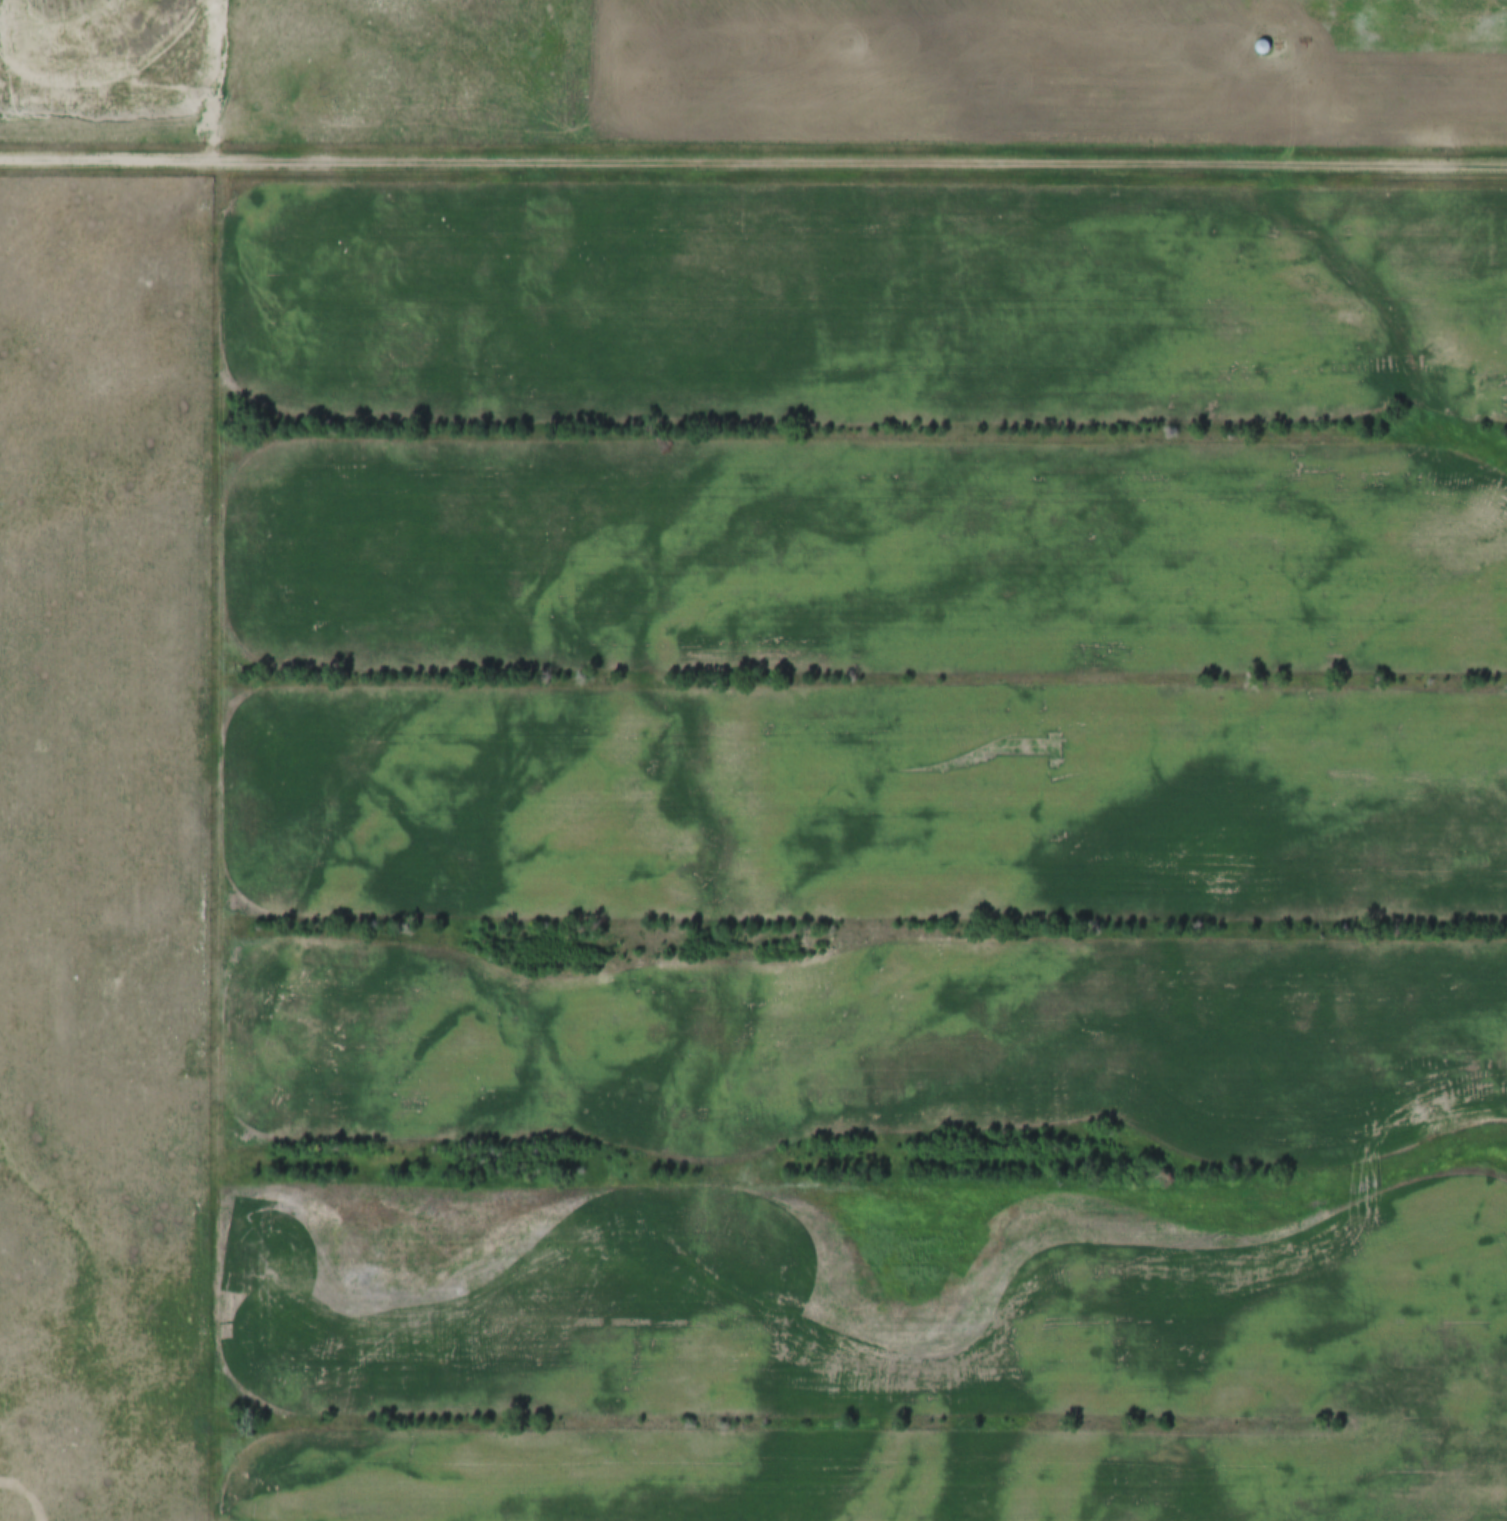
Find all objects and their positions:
building: (1265, 47)
road: (111, 158)
road: (865, 162)
road: (221, 760)

